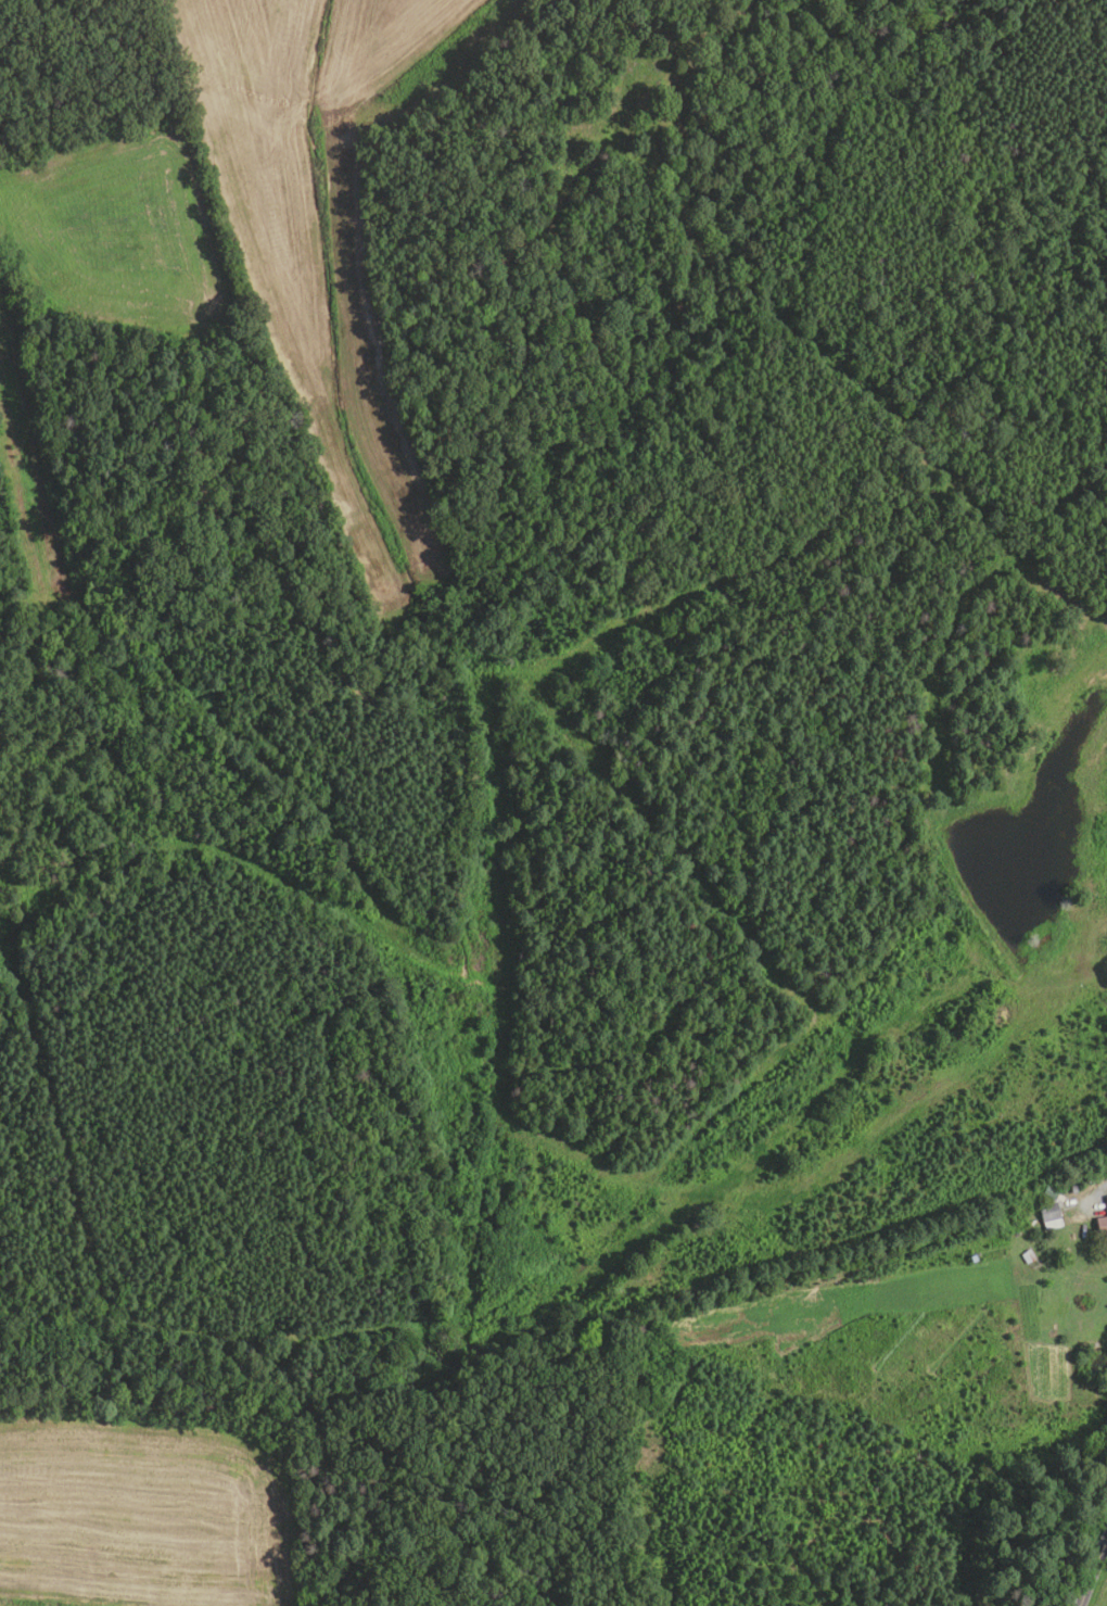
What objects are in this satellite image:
building: (1071, 1188)
road: (1098, 1191)
building: (1105, 1201)
building: (1029, 1215)
building: (1049, 1215)
building: (1100, 1224)
building: (1026, 1256)
road: (1093, 1571)

